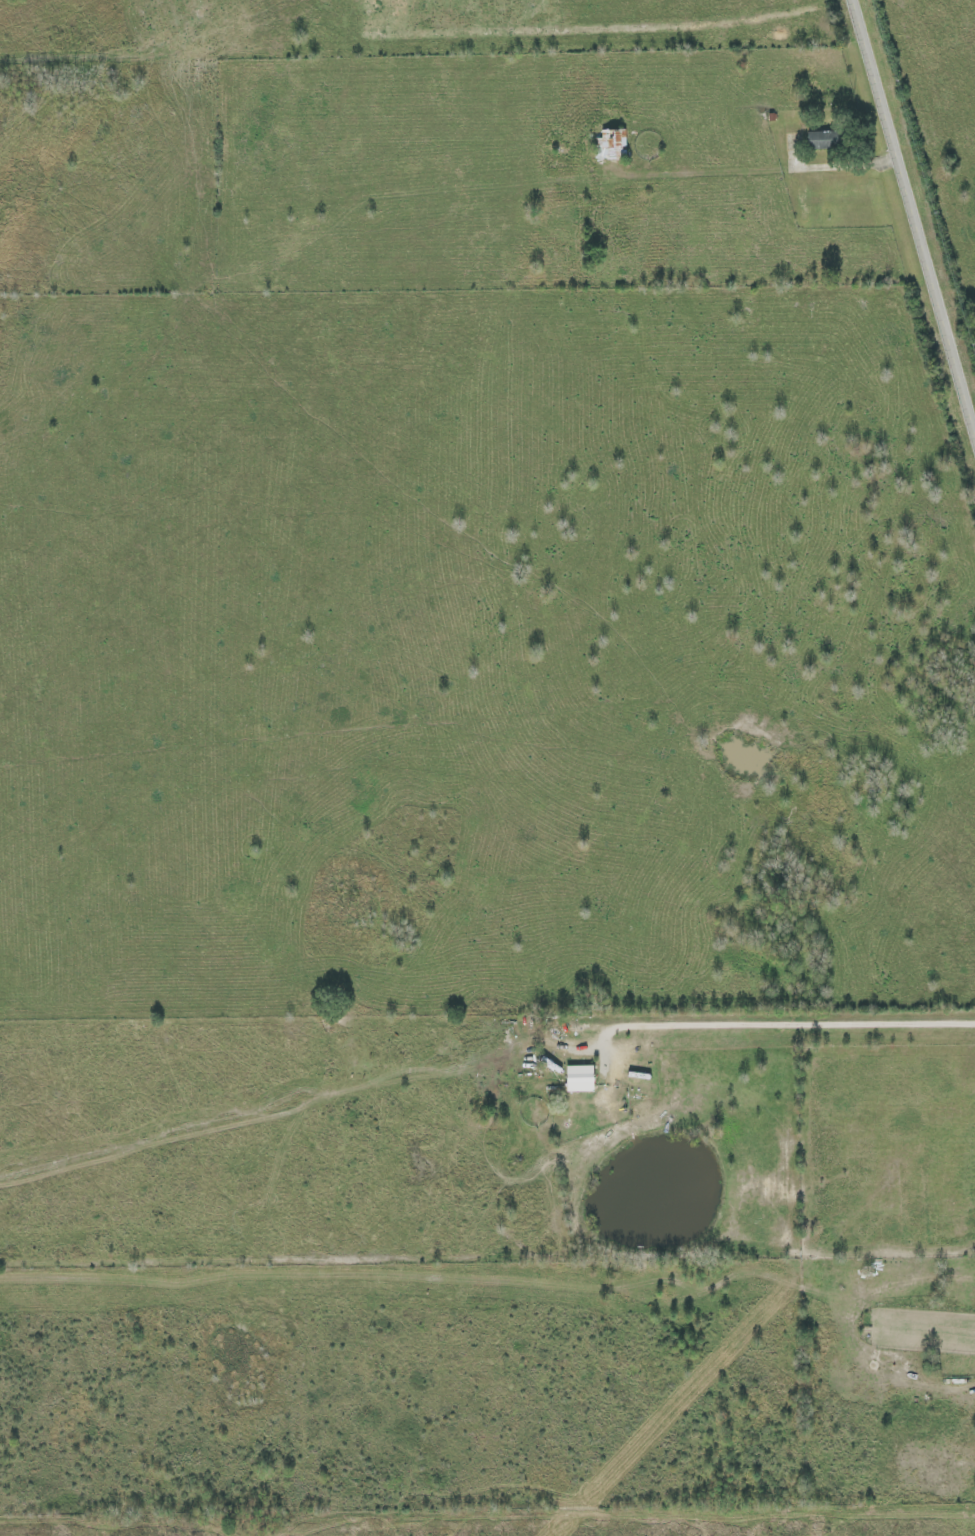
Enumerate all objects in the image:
building: (822, 140)
building: (609, 145)
road: (836, 166)
road: (913, 215)
road: (783, 1017)
building: (564, 1026)
building: (568, 1074)

